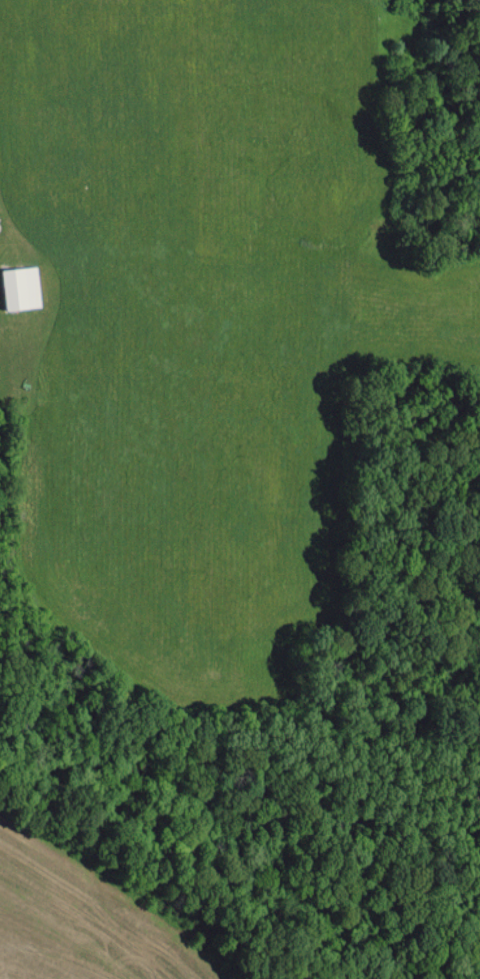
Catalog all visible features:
building: (22, 288)

